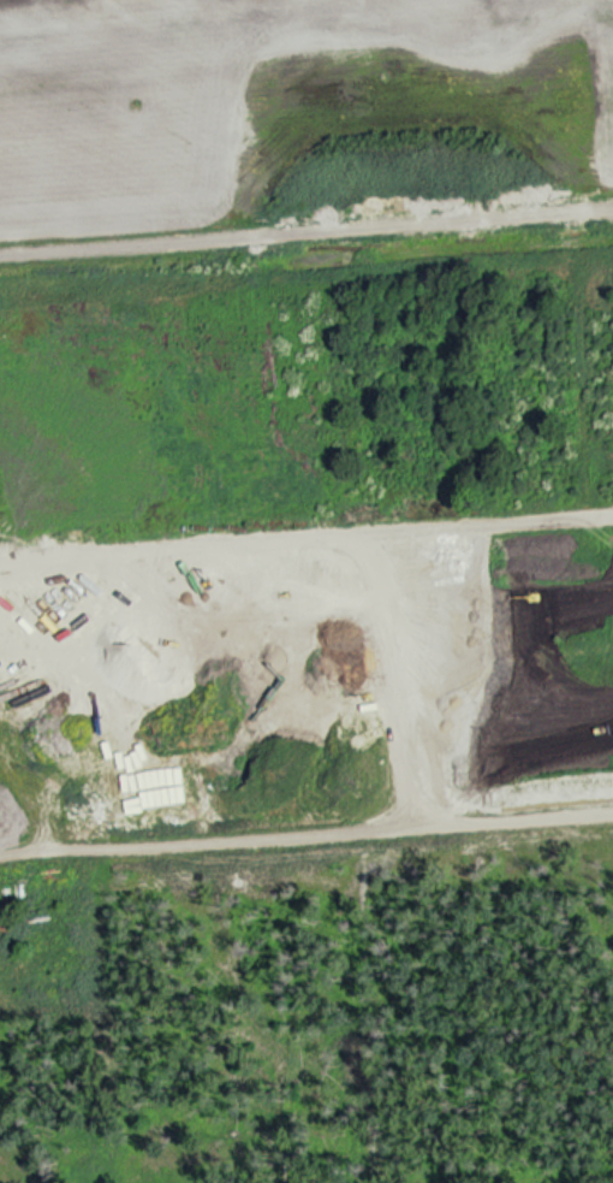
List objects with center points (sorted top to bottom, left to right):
road: (306, 532)

